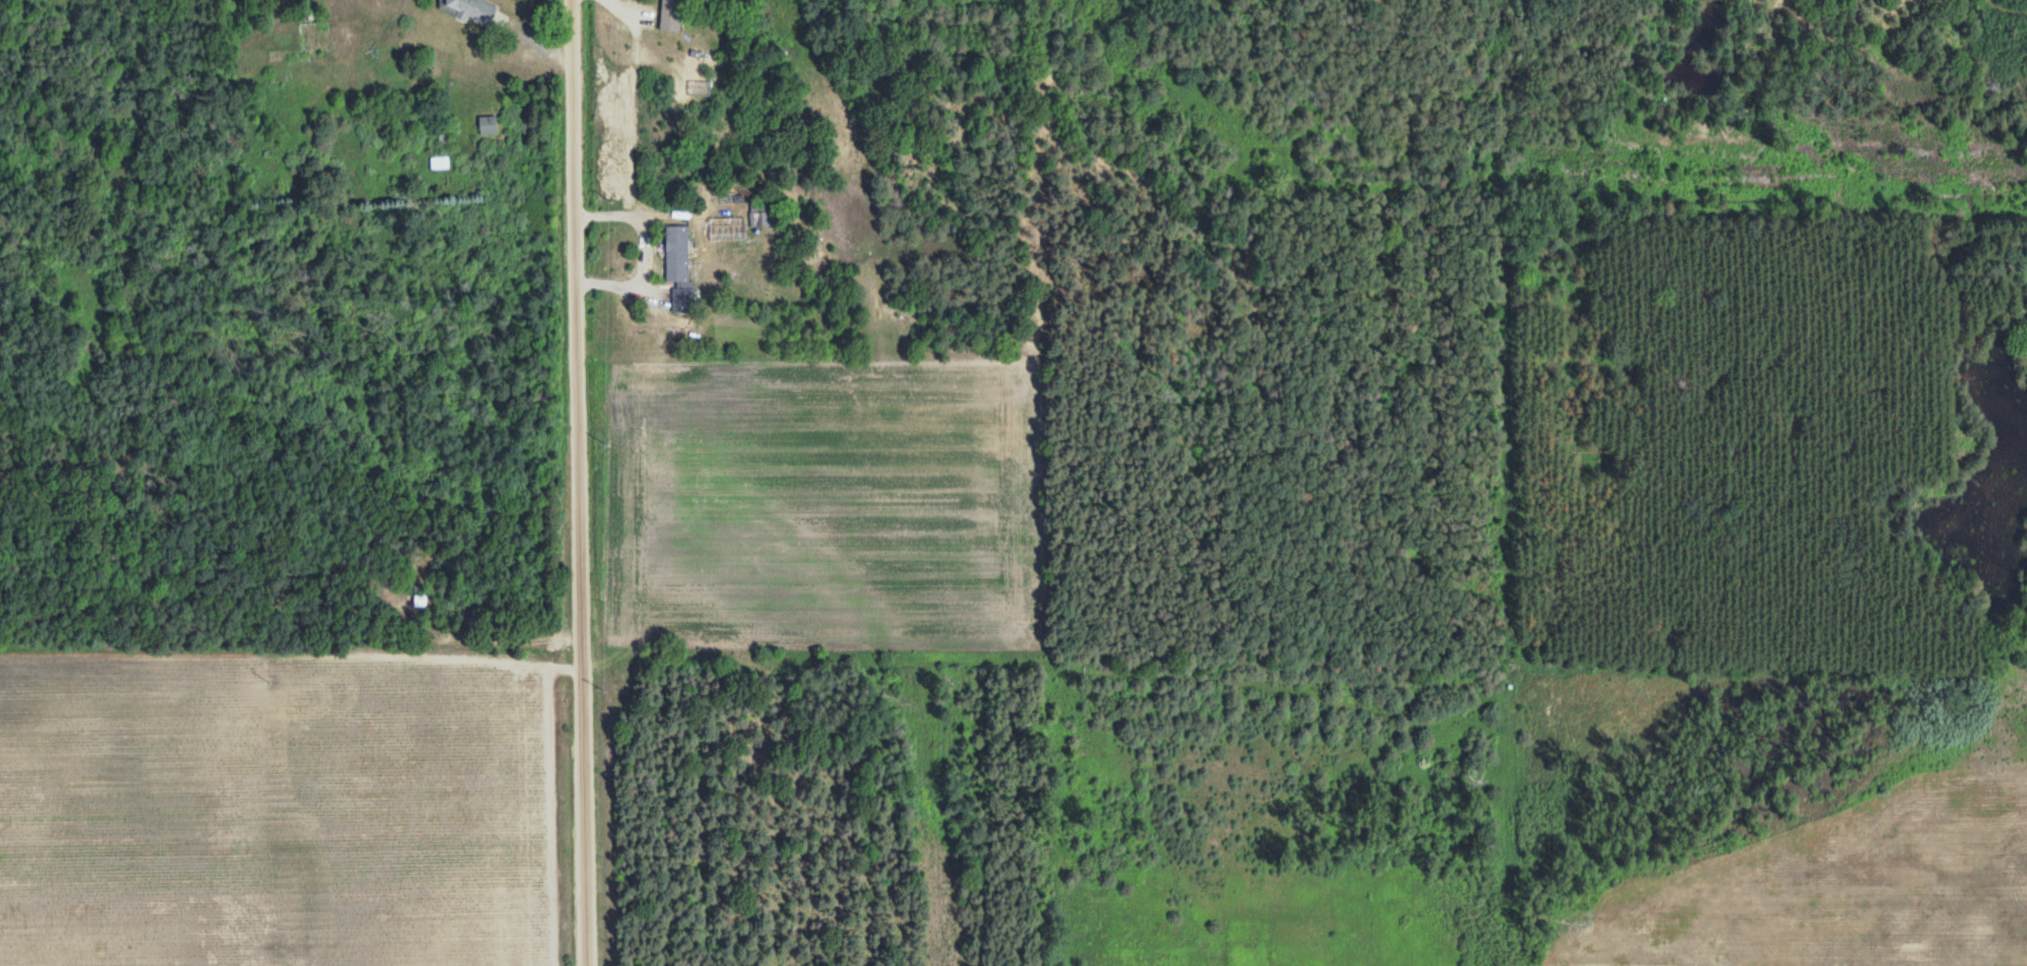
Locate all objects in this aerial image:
building: (467, 9)
building: (668, 15)
building: (485, 125)
building: (438, 163)
building: (758, 216)
building: (674, 253)
road: (570, 483)

